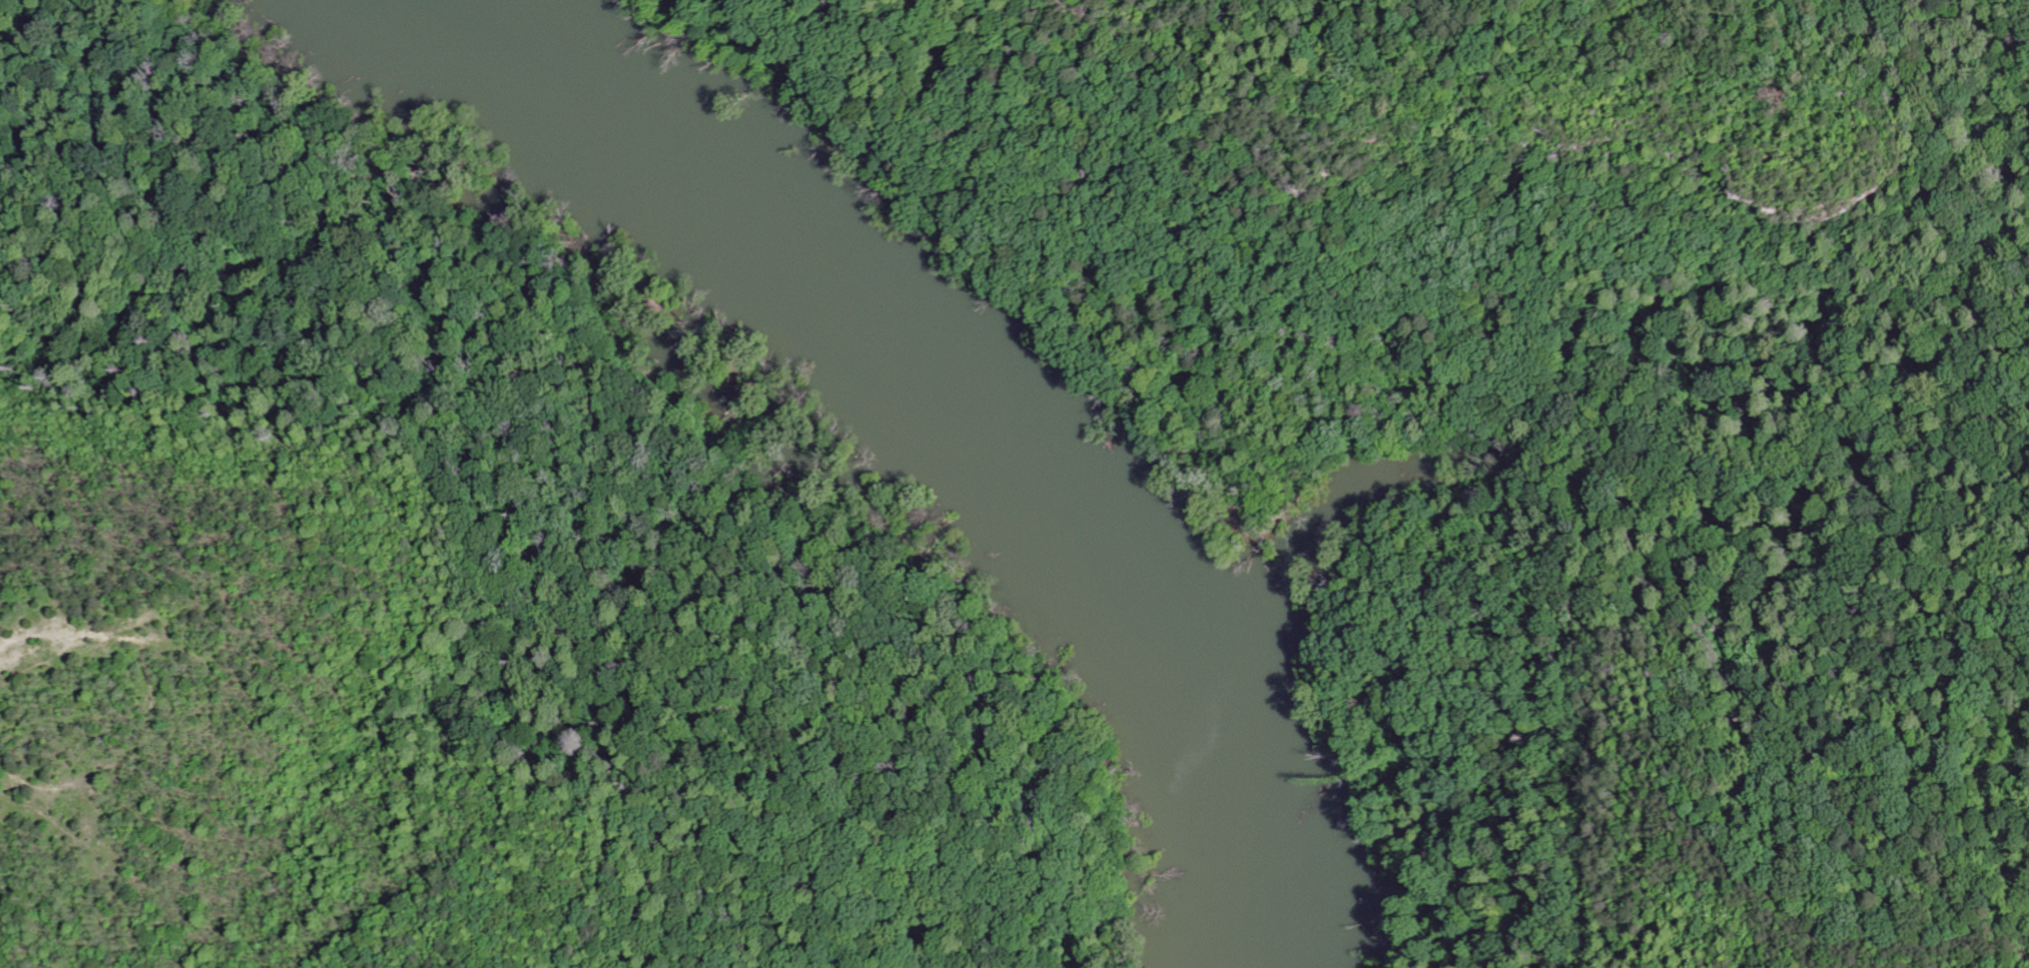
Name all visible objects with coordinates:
river: (957, 406)

